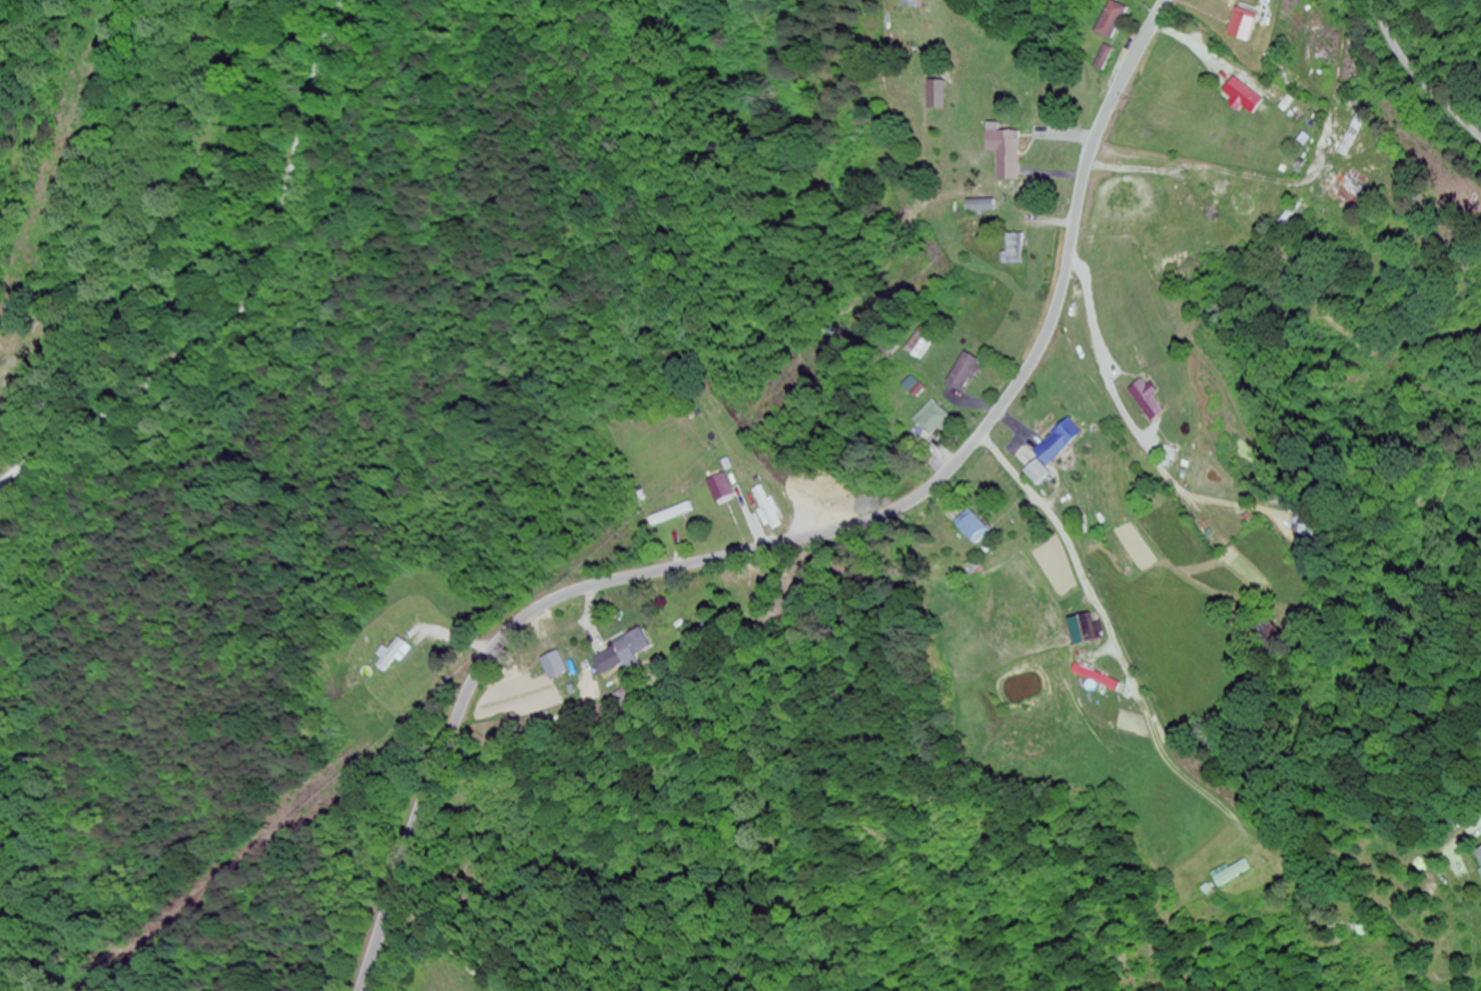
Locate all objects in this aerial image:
building: (919, 3)
building: (1115, 21)
building: (1256, 23)
building: (1323, 66)
road: (1420, 74)
building: (936, 95)
building: (1242, 96)
building: (1006, 153)
building: (1344, 189)
building: (981, 206)
building: (1220, 212)
building: (1017, 250)
building: (924, 345)
building: (14, 366)
building: (966, 373)
building: (917, 388)
building: (1151, 401)
building: (934, 420)
building: (1055, 450)
building: (723, 489)
building: (772, 509)
building: (672, 514)
building: (1314, 525)
building: (973, 527)
road: (797, 540)
building: (1082, 630)
building: (623, 653)
building: (395, 656)
building: (555, 666)
road: (1460, 841)
building: (1230, 872)

